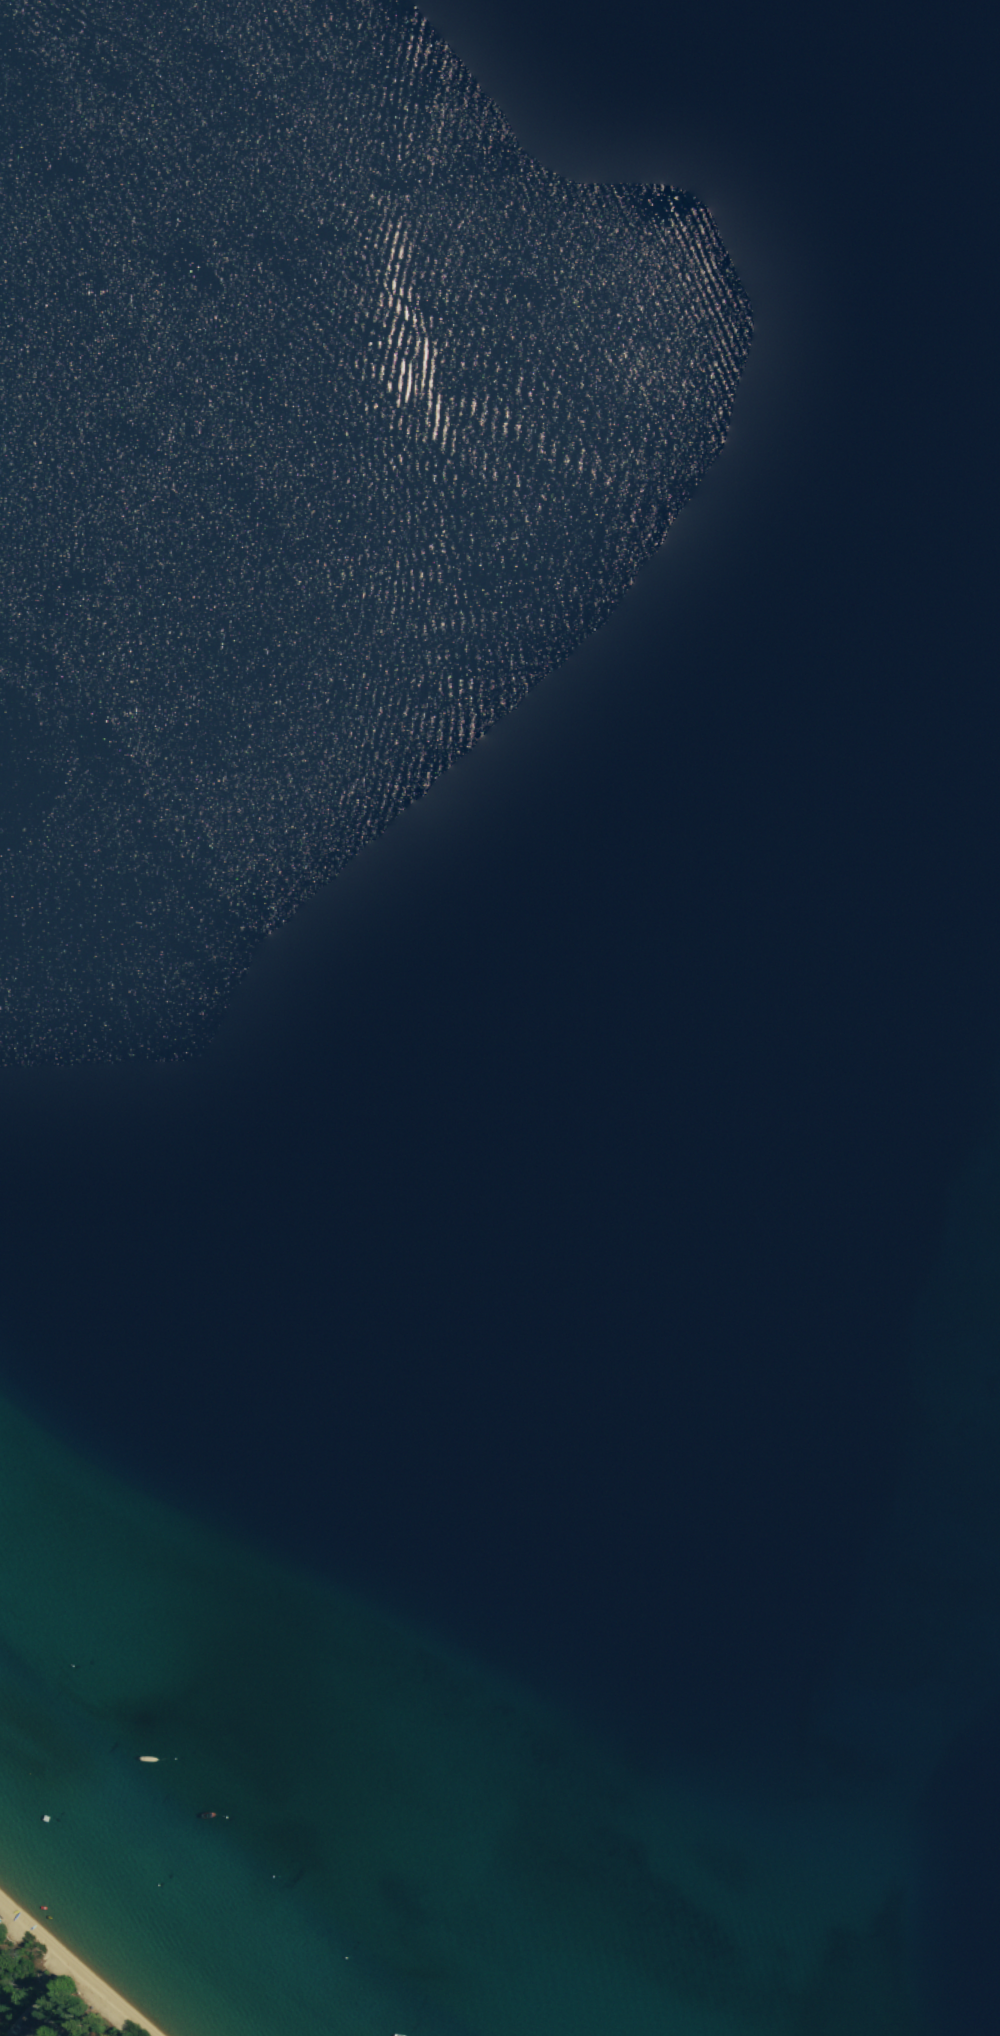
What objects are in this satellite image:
building: (33, 2026)
building: (9, 2035)

